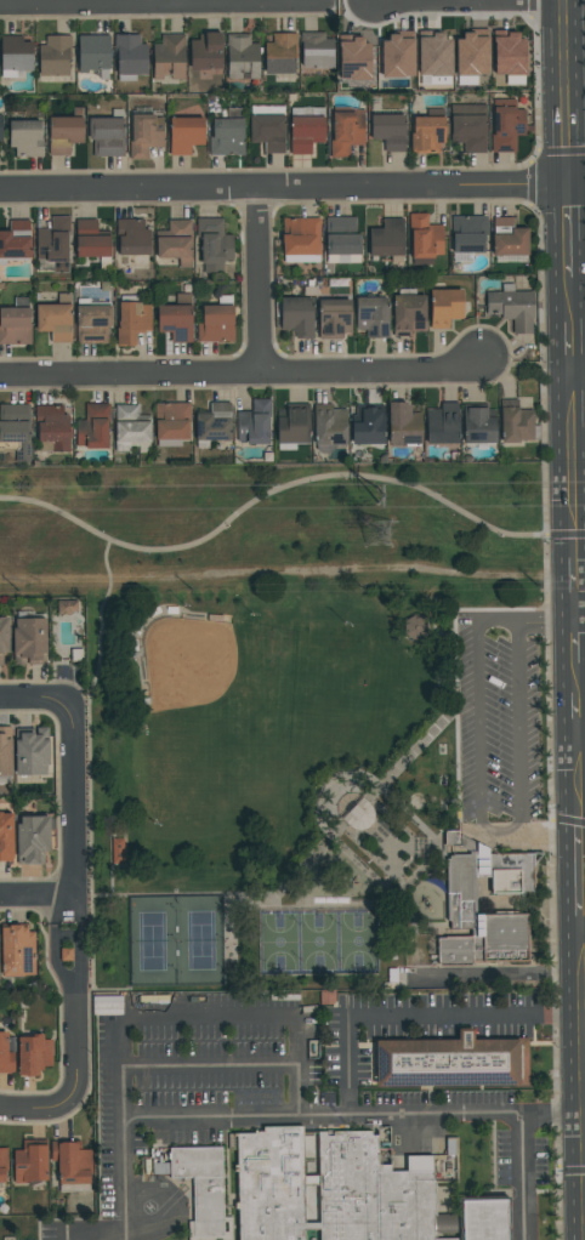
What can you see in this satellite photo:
road: (516, 0)
road: (169, 1)
road: (160, 4)
building: (316, 50)
building: (206, 51)
building: (93, 53)
building: (280, 53)
building: (15, 55)
building: (397, 55)
building: (242, 56)
building: (472, 56)
building: (509, 56)
building: (130, 57)
building: (169, 57)
building: (353, 57)
building: (55, 58)
building: (433, 58)
road: (566, 93)
building: (507, 125)
building: (267, 126)
building: (468, 126)
building: (0, 127)
building: (306, 129)
building: (388, 130)
building: (346, 132)
building: (63, 133)
building: (107, 133)
building: (227, 133)
building: (427, 133)
building: (144, 135)
building: (184, 135)
building: (25, 137)
road: (284, 189)
road: (569, 232)
building: (468, 233)
building: (132, 237)
building: (509, 237)
building: (90, 239)
building: (301, 239)
building: (387, 239)
building: (425, 239)
building: (15, 240)
building: (214, 240)
building: (341, 240)
building: (175, 241)
building: (53, 245)
road: (259, 281)
road: (570, 300)
building: (444, 307)
building: (512, 307)
building: (408, 313)
building: (297, 315)
building: (373, 315)
building: (176, 318)
building: (334, 318)
building: (53, 320)
building: (91, 320)
building: (216, 320)
building: (16, 322)
building: (132, 322)
road: (572, 348)
road: (578, 372)
road: (242, 374)
building: (515, 421)
building: (254, 422)
building: (171, 423)
building: (212, 423)
building: (292, 423)
building: (403, 423)
building: (442, 423)
building: (367, 425)
building: (478, 425)
building: (93, 426)
building: (329, 427)
building: (52, 428)
building: (131, 428)
building: (15, 430)
road: (573, 465)
road: (267, 495)
power tower: (384, 495)
park: (292, 530)
road: (544, 534)
road: (566, 534)
power tower: (407, 539)
road: (580, 558)
road: (288, 570)
road: (575, 582)
road: (580, 610)
road: (543, 621)
building: (414, 627)
road: (477, 627)
road: (100, 628)
building: (4, 637)
building: (29, 639)
road: (569, 650)
park: (206, 683)
road: (35, 699)
parking lot: (498, 716)
road: (447, 718)
road: (581, 735)
building: (5, 751)
building: (30, 751)
road: (578, 757)
road: (326, 786)
park: (317, 792)
road: (70, 801)
road: (410, 818)
road: (566, 821)
building: (6, 832)
building: (32, 838)
building: (451, 838)
building: (119, 852)
road: (363, 868)
road: (418, 871)
building: (461, 874)
building: (512, 875)
road: (580, 877)
road: (35, 897)
building: (462, 903)
building: (462, 921)
road: (583, 931)
building: (505, 938)
park: (175, 940)
park: (318, 942)
building: (460, 950)
building: (17, 951)
road: (495, 972)
road: (73, 986)
building: (107, 1005)
road: (211, 1014)
road: (415, 1016)
road: (583, 1028)
building: (6, 1053)
building: (34, 1054)
parking lot: (303, 1062)
building: (449, 1064)
road: (580, 1085)
road: (49, 1111)
road: (211, 1117)
building: (444, 1157)
building: (30, 1161)
building: (2, 1164)
building: (72, 1165)
road: (523, 1176)
road: (125, 1179)
building: (271, 1184)
building: (203, 1185)
building: (374, 1190)
helipad: (148, 1207)
building: (477, 1218)
parking lot: (107, 1232)
road: (67, 1233)
road: (96, 1233)
building: (451, 1239)

